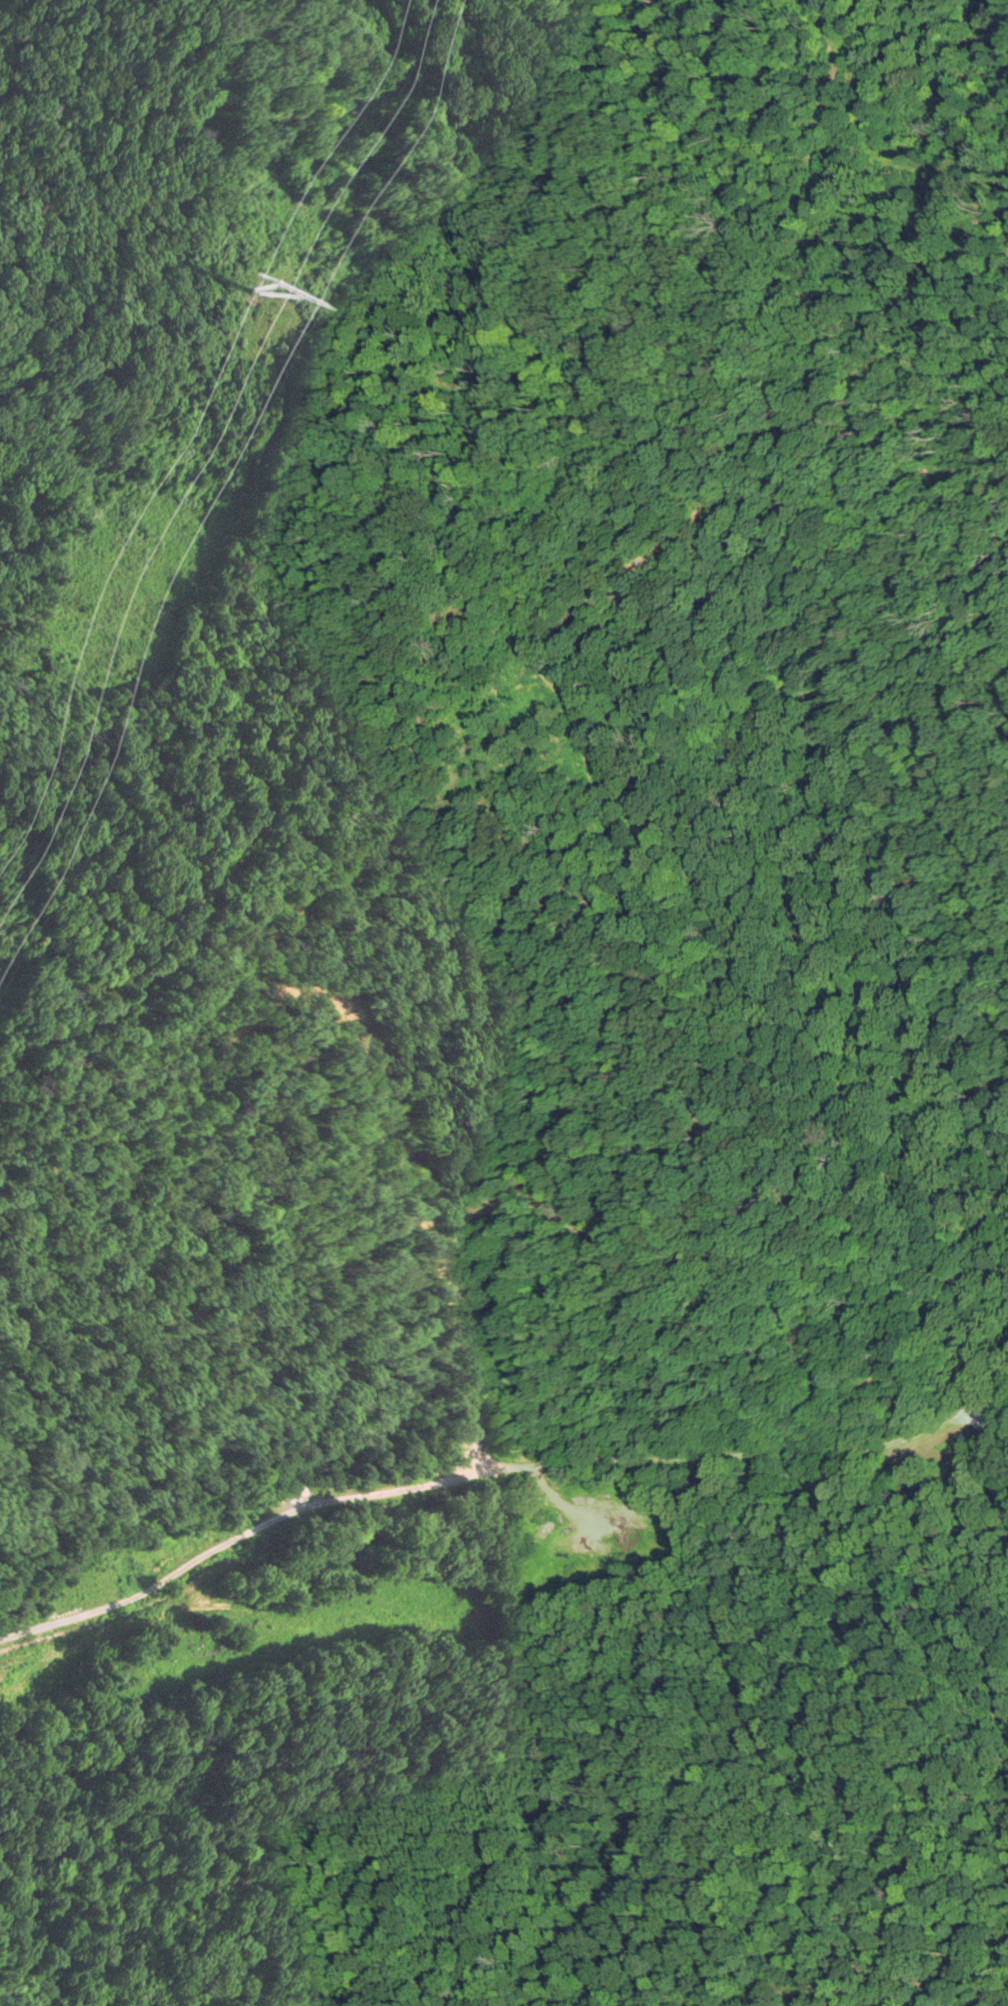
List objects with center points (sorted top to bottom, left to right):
power tower: (245, 292)
road: (988, 2001)

